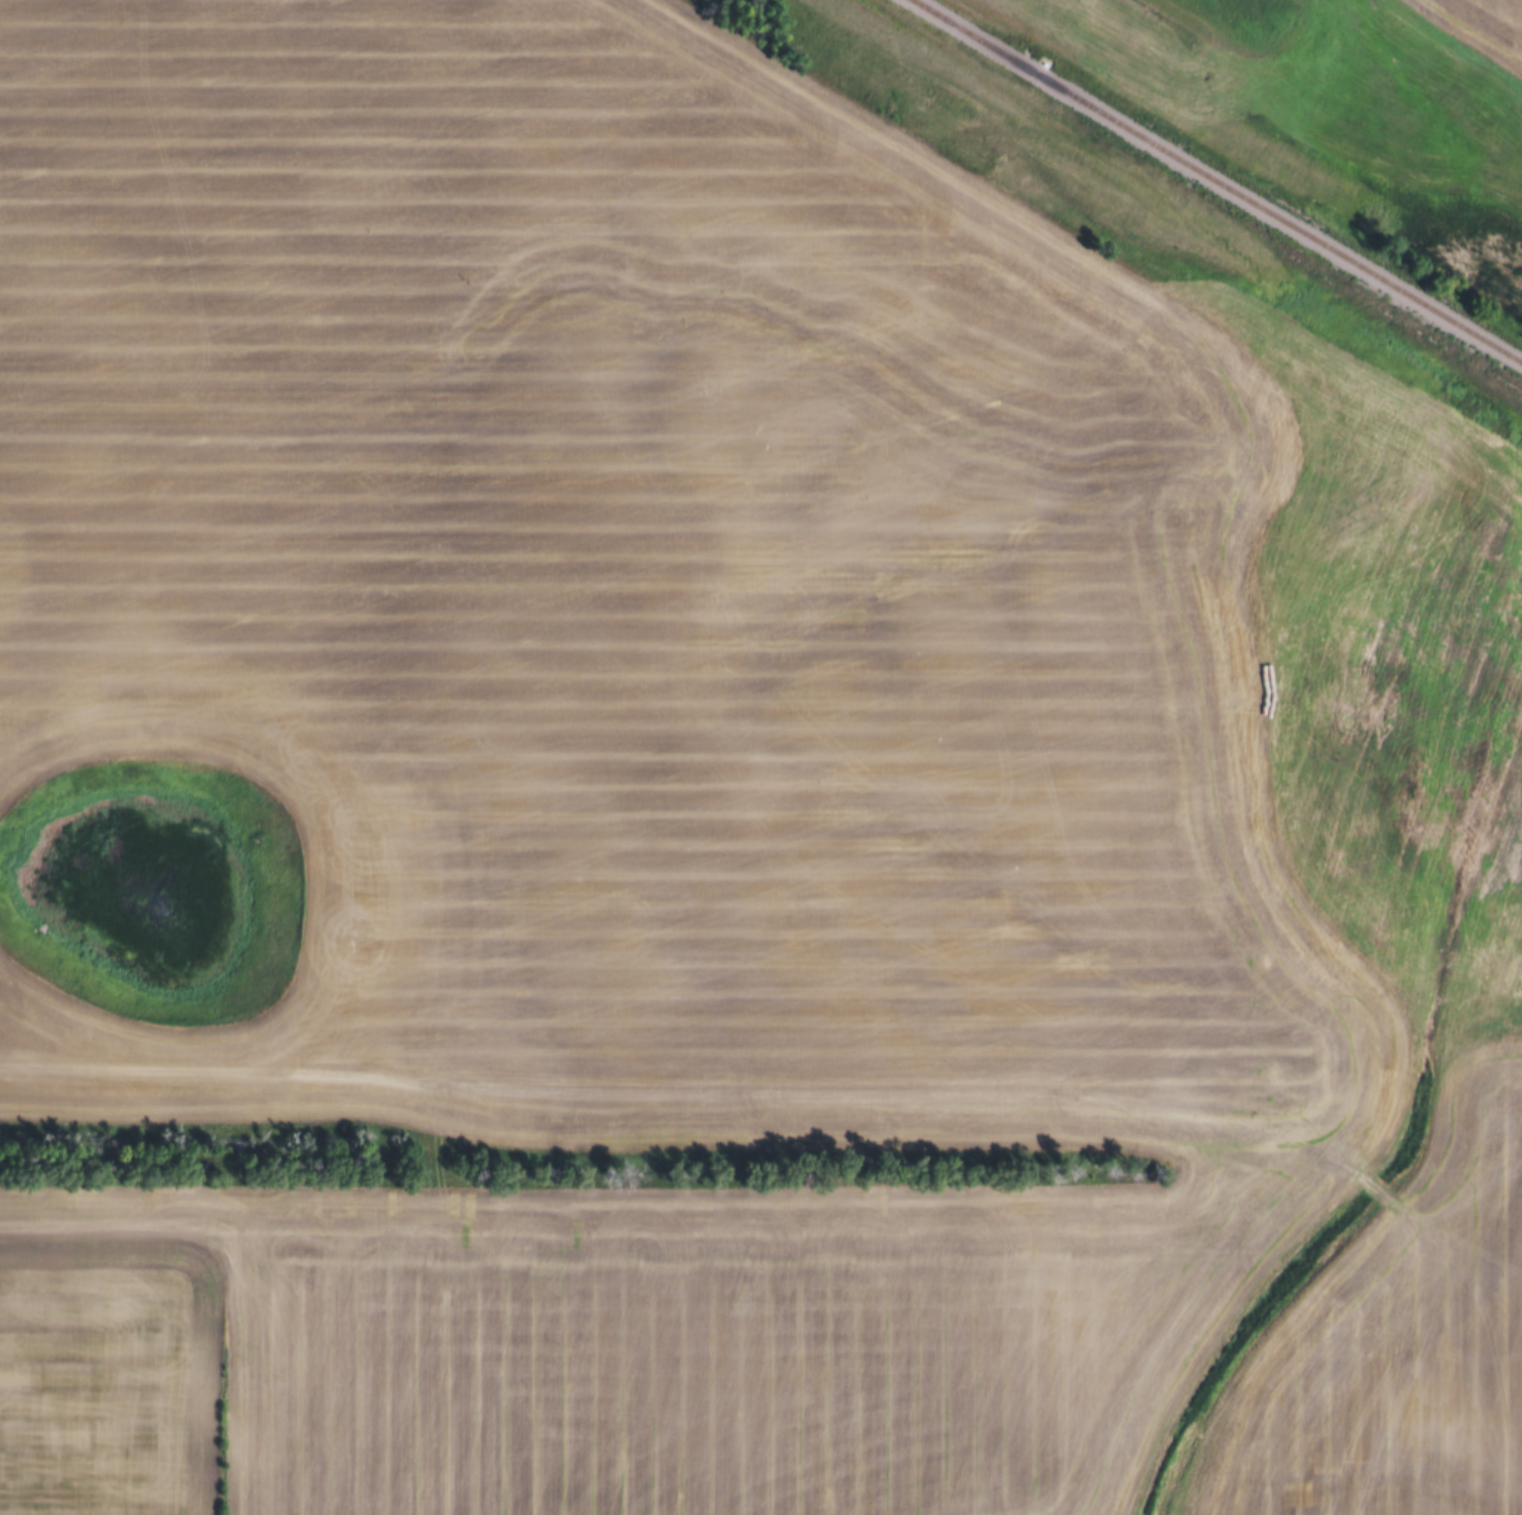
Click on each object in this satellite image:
railway: (1217, 183)

